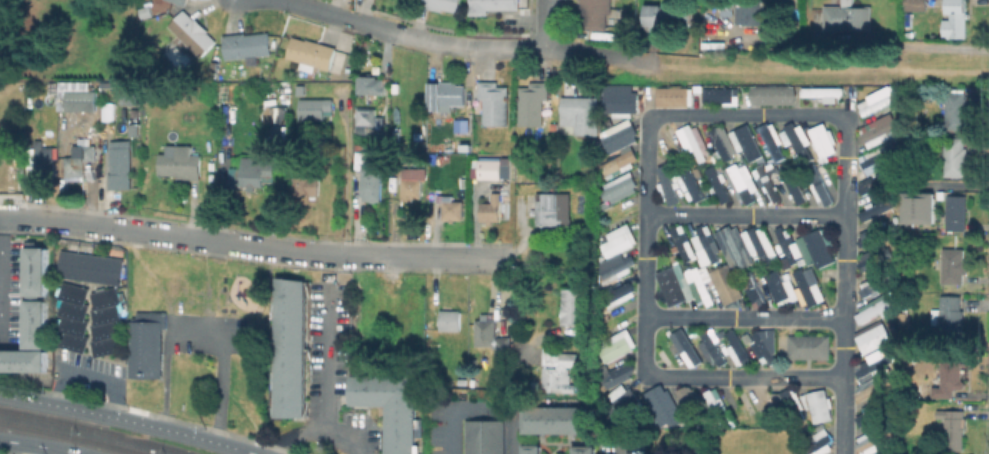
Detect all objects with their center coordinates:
building: (182, 1)
building: (442, 4)
building: (492, 5)
building: (917, 5)
road: (311, 6)
building: (145, 13)
building: (750, 13)
building: (596, 14)
building: (670, 15)
building: (849, 17)
building: (956, 19)
road: (544, 24)
building: (193, 32)
road: (444, 44)
building: (248, 46)
building: (312, 53)
road: (599, 54)
building: (173, 55)
building: (215, 67)
road: (822, 68)
building: (371, 85)
building: (301, 90)
building: (821, 92)
building: (132, 94)
building: (208, 94)
building: (446, 94)
building: (771, 94)
building: (59, 95)
building: (719, 95)
building: (671, 96)
building: (78, 97)
building: (875, 101)
building: (494, 102)
building: (534, 103)
building: (619, 103)
building: (109, 108)
building: (311, 108)
building: (957, 111)
building: (283, 114)
building: (583, 115)
building: (367, 116)
road: (650, 118)
building: (462, 124)
building: (135, 129)
building: (877, 130)
building: (616, 134)
building: (811, 140)
building: (771, 141)
building: (692, 142)
building: (721, 142)
building: (744, 142)
building: (465, 143)
building: (377, 149)
building: (765, 152)
building: (956, 156)
building: (876, 158)
building: (40, 161)
building: (619, 161)
building: (79, 162)
building: (182, 163)
building: (120, 167)
building: (493, 169)
building: (253, 173)
building: (742, 181)
building: (372, 183)
building: (717, 184)
road: (953, 184)
building: (306, 185)
building: (411, 185)
building: (769, 185)
building: (795, 185)
building: (621, 186)
building: (680, 186)
building: (820, 186)
building: (878, 186)
building: (431, 194)
building: (919, 208)
building: (492, 209)
building: (549, 209)
building: (453, 210)
building: (878, 210)
building: (957, 212)
road: (746, 215)
building: (870, 237)
building: (619, 241)
building: (786, 242)
building: (684, 243)
road: (254, 246)
building: (708, 246)
building: (760, 246)
building: (737, 248)
building: (820, 249)
building: (872, 262)
building: (954, 266)
road: (1, 267)
building: (92, 267)
building: (619, 269)
building: (36, 271)
building: (672, 284)
building: (702, 284)
building: (878, 284)
building: (729, 285)
building: (755, 289)
building: (794, 289)
building: (619, 295)
building: (573, 308)
building: (877, 309)
building: (73, 314)
road: (744, 318)
building: (950, 319)
building: (108, 320)
building: (450, 320)
building: (36, 323)
building: (492, 337)
building: (875, 339)
building: (148, 344)
building: (809, 345)
building: (289, 346)
building: (611, 348)
building: (714, 349)
building: (740, 349)
building: (689, 350)
building: (765, 350)
building: (25, 360)
building: (875, 366)
road: (326, 367)
building: (560, 370)
building: (619, 373)
building: (954, 373)
building: (463, 382)
building: (874, 388)
building: (942, 393)
building: (793, 399)
building: (819, 404)
building: (623, 405)
building: (669, 405)
building: (720, 405)
building: (392, 406)
building: (693, 406)
road: (480, 411)
building: (871, 413)
road: (843, 416)
building: (556, 419)
road: (128, 421)
building: (953, 427)
railway: (94, 429)
road: (315, 431)
railway: (70, 437)
building: (486, 438)
building: (872, 439)
building: (815, 442)
road: (36, 446)
building: (529, 449)
building: (582, 449)
building: (881, 453)

